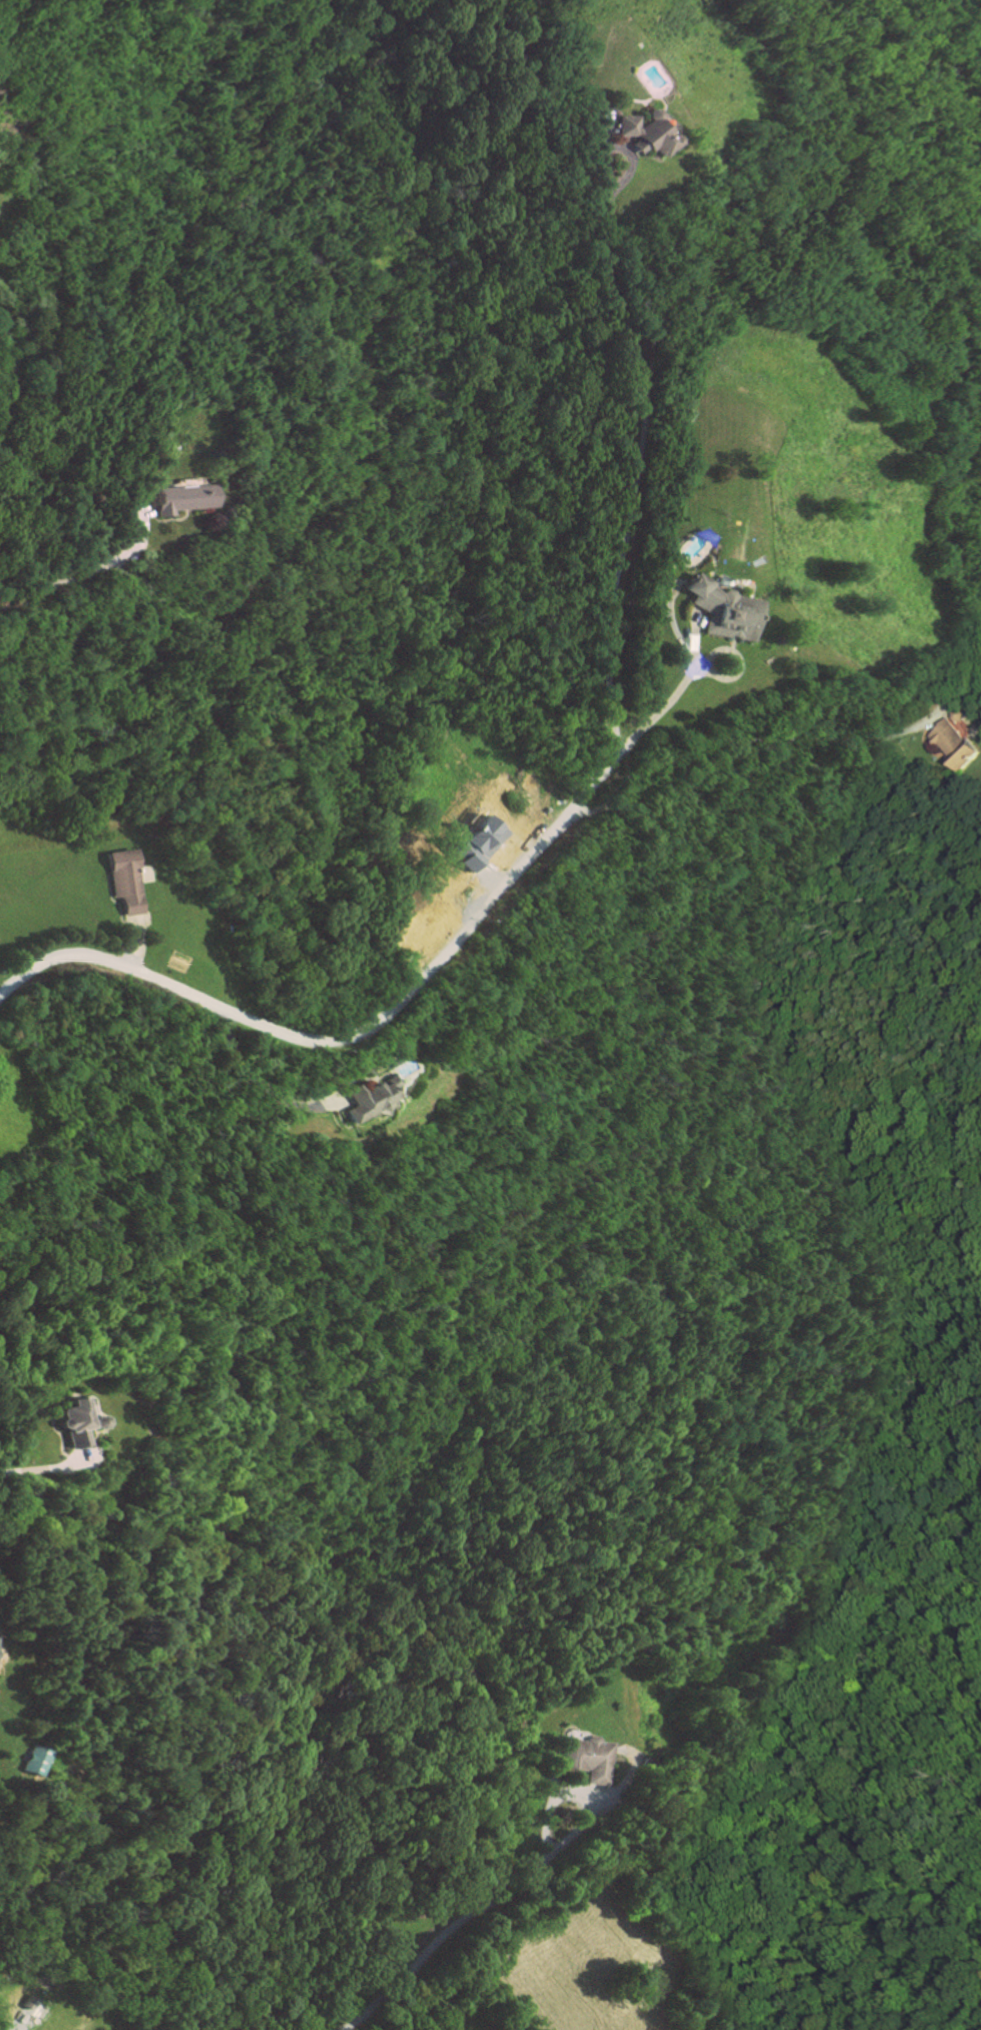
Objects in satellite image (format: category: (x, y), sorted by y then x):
road: (645, 430)
road: (75, 576)
road: (664, 698)
road: (735, 738)
road: (356, 1027)
road: (246, 1080)
road: (9, 1480)
road: (452, 1925)

